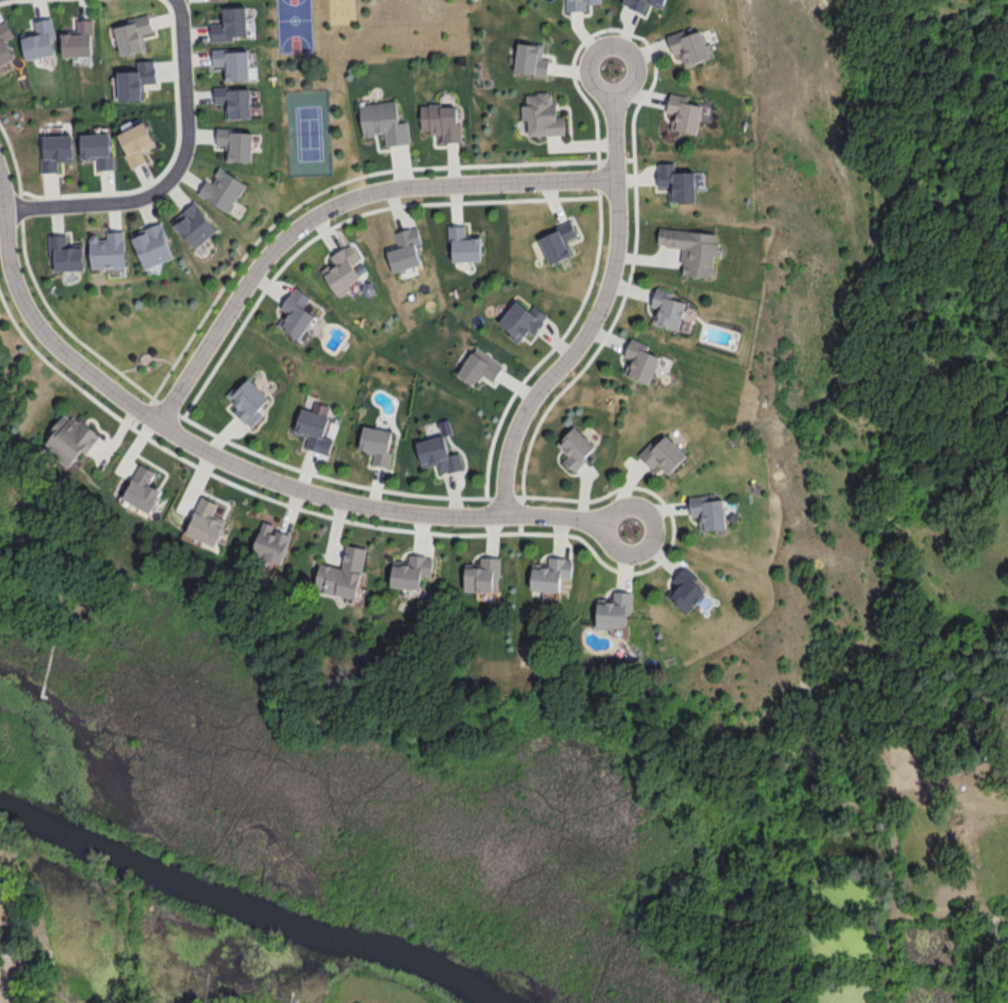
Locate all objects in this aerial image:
building: (579, 4)
building: (230, 22)
park: (295, 26)
building: (133, 33)
building: (39, 38)
building: (78, 38)
building: (5, 42)
building: (689, 44)
building: (530, 57)
building: (233, 62)
building: (136, 79)
road: (184, 92)
building: (234, 100)
building: (687, 112)
building: (542, 113)
building: (440, 120)
building: (384, 121)
park: (309, 132)
building: (135, 142)
building: (236, 143)
building: (97, 148)
building: (56, 150)
building: (675, 181)
building: (222, 188)
road: (89, 203)
road: (333, 203)
road: (3, 204)
building: (194, 224)
building: (557, 242)
building: (464, 243)
building: (151, 244)
building: (404, 248)
building: (692, 248)
building: (107, 249)
building: (65, 252)
building: (344, 267)
park: (939, 297)
road: (599, 302)
building: (666, 308)
building: (295, 312)
building: (521, 319)
building: (640, 359)
building: (479, 366)
building: (247, 400)
building: (69, 436)
building: (376, 444)
building: (575, 446)
building: (662, 453)
building: (438, 454)
road: (238, 464)
building: (142, 488)
building: (707, 510)
building: (206, 521)
building: (270, 542)
building: (411, 570)
building: (550, 573)
building: (343, 574)
building: (482, 574)
building: (685, 588)
building: (614, 608)
river: (244, 903)
road: (5, 960)

